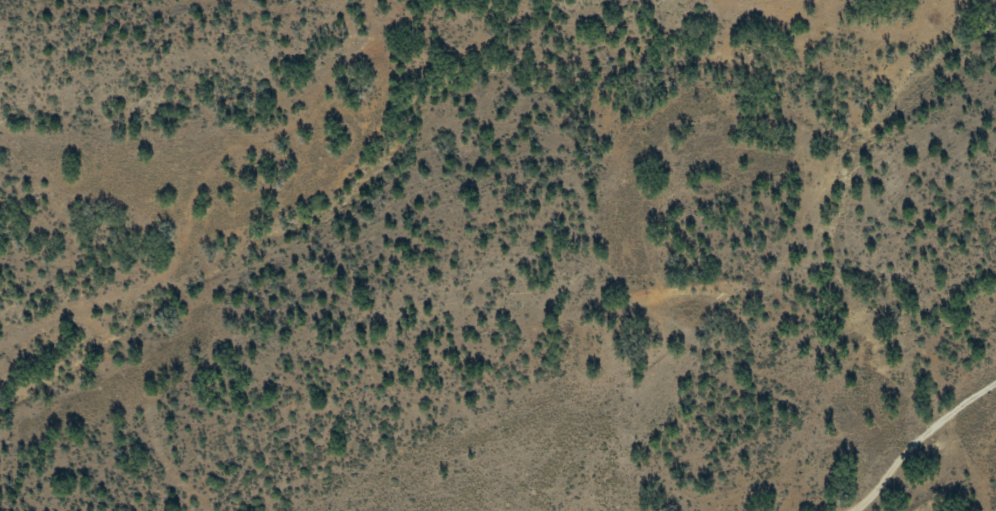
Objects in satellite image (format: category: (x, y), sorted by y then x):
road: (916, 465)

